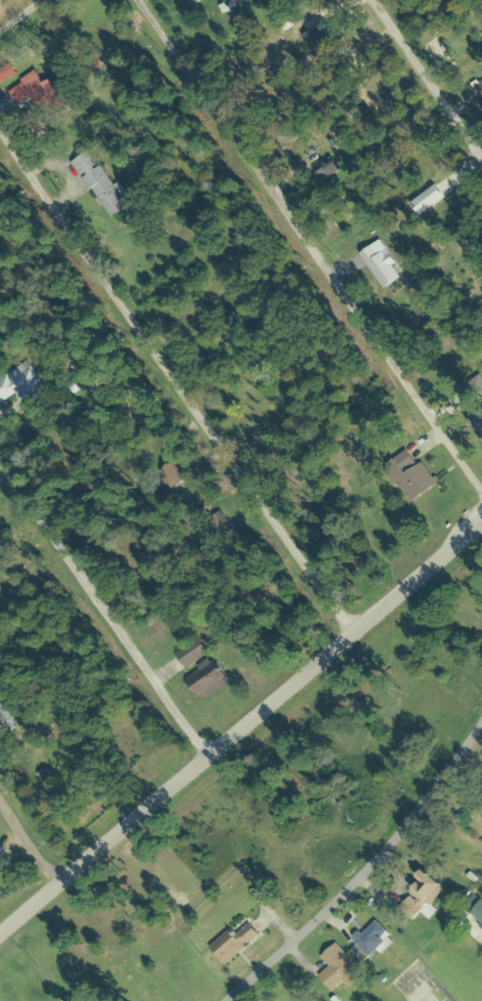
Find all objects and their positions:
building: (192, 2)
road: (30, 26)
road: (422, 87)
building: (44, 93)
building: (328, 169)
building: (102, 185)
road: (297, 251)
building: (99, 382)
building: (21, 383)
road: (173, 398)
building: (478, 429)
building: (410, 477)
building: (182, 479)
building: (219, 525)
road: (103, 614)
building: (190, 653)
building: (208, 682)
building: (7, 716)
road: (243, 732)
road: (350, 834)
road: (33, 841)
building: (423, 896)
building: (370, 941)
building: (233, 943)
building: (339, 969)
road: (468, 987)
building: (423, 994)

